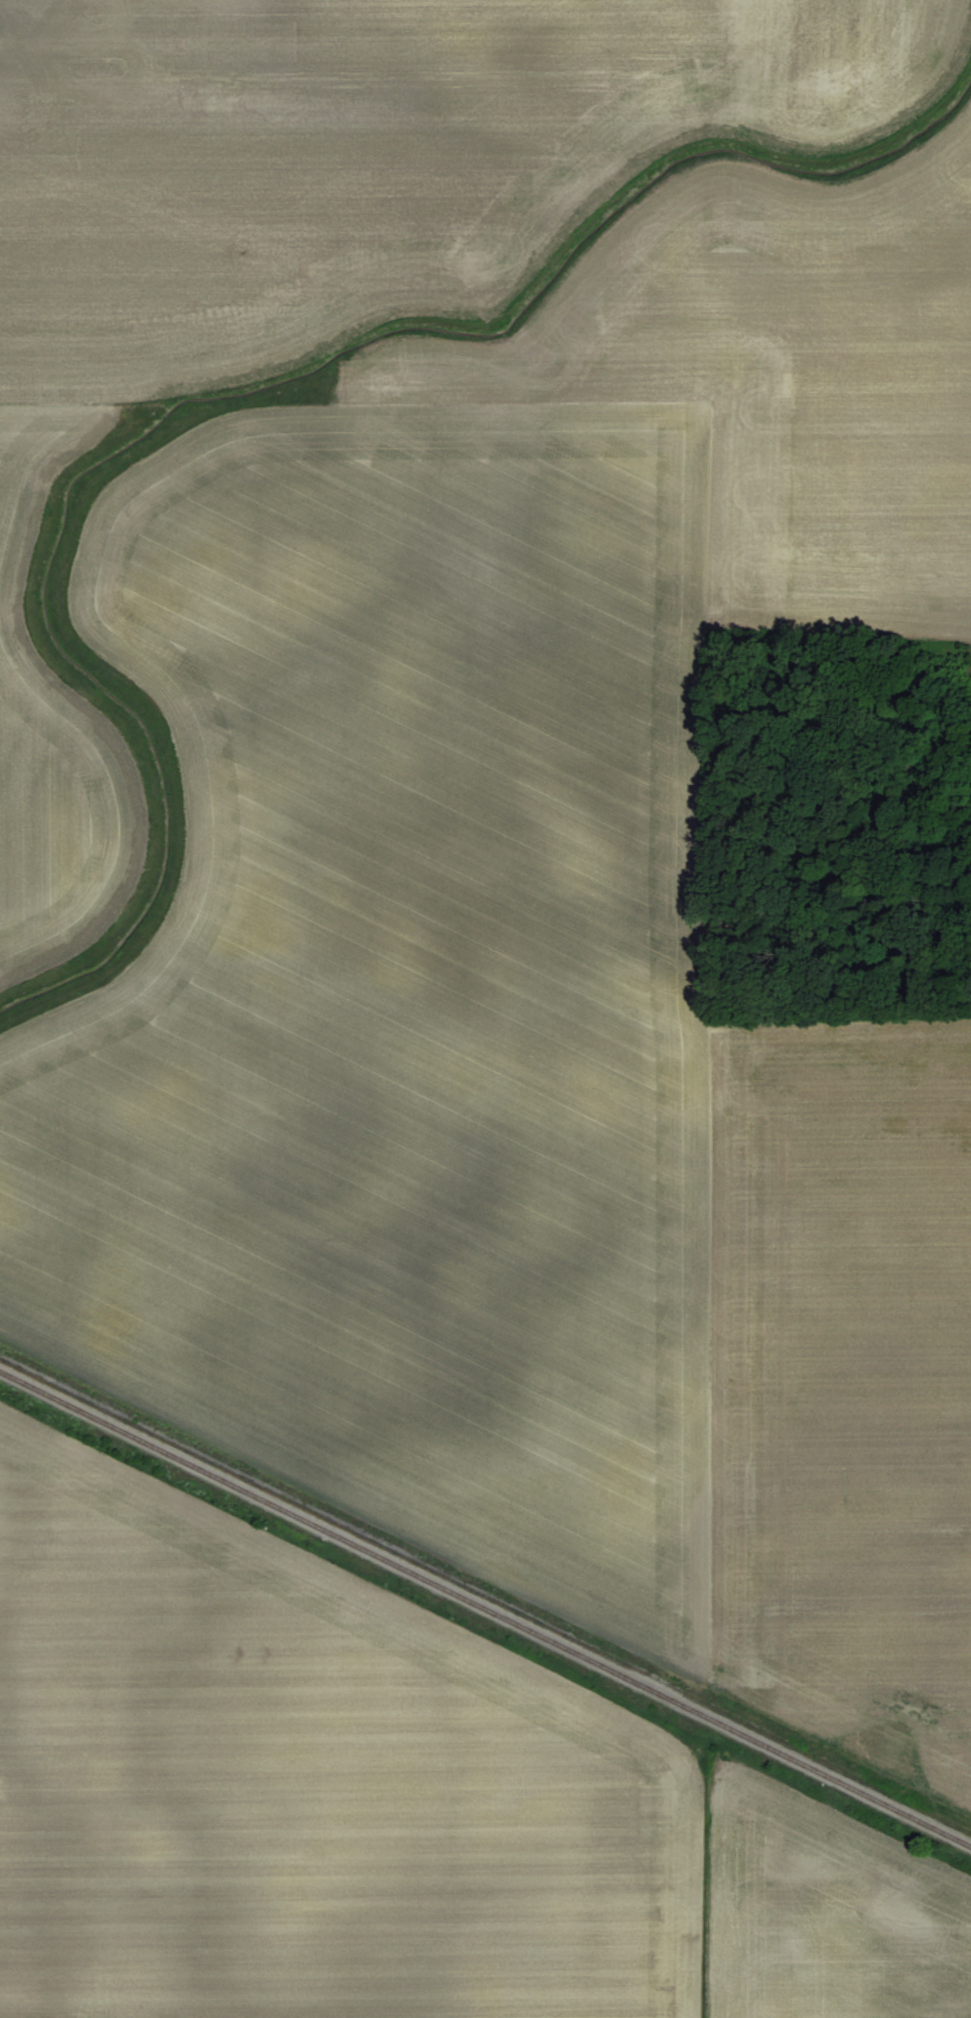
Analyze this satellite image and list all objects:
railway: (485, 1605)

